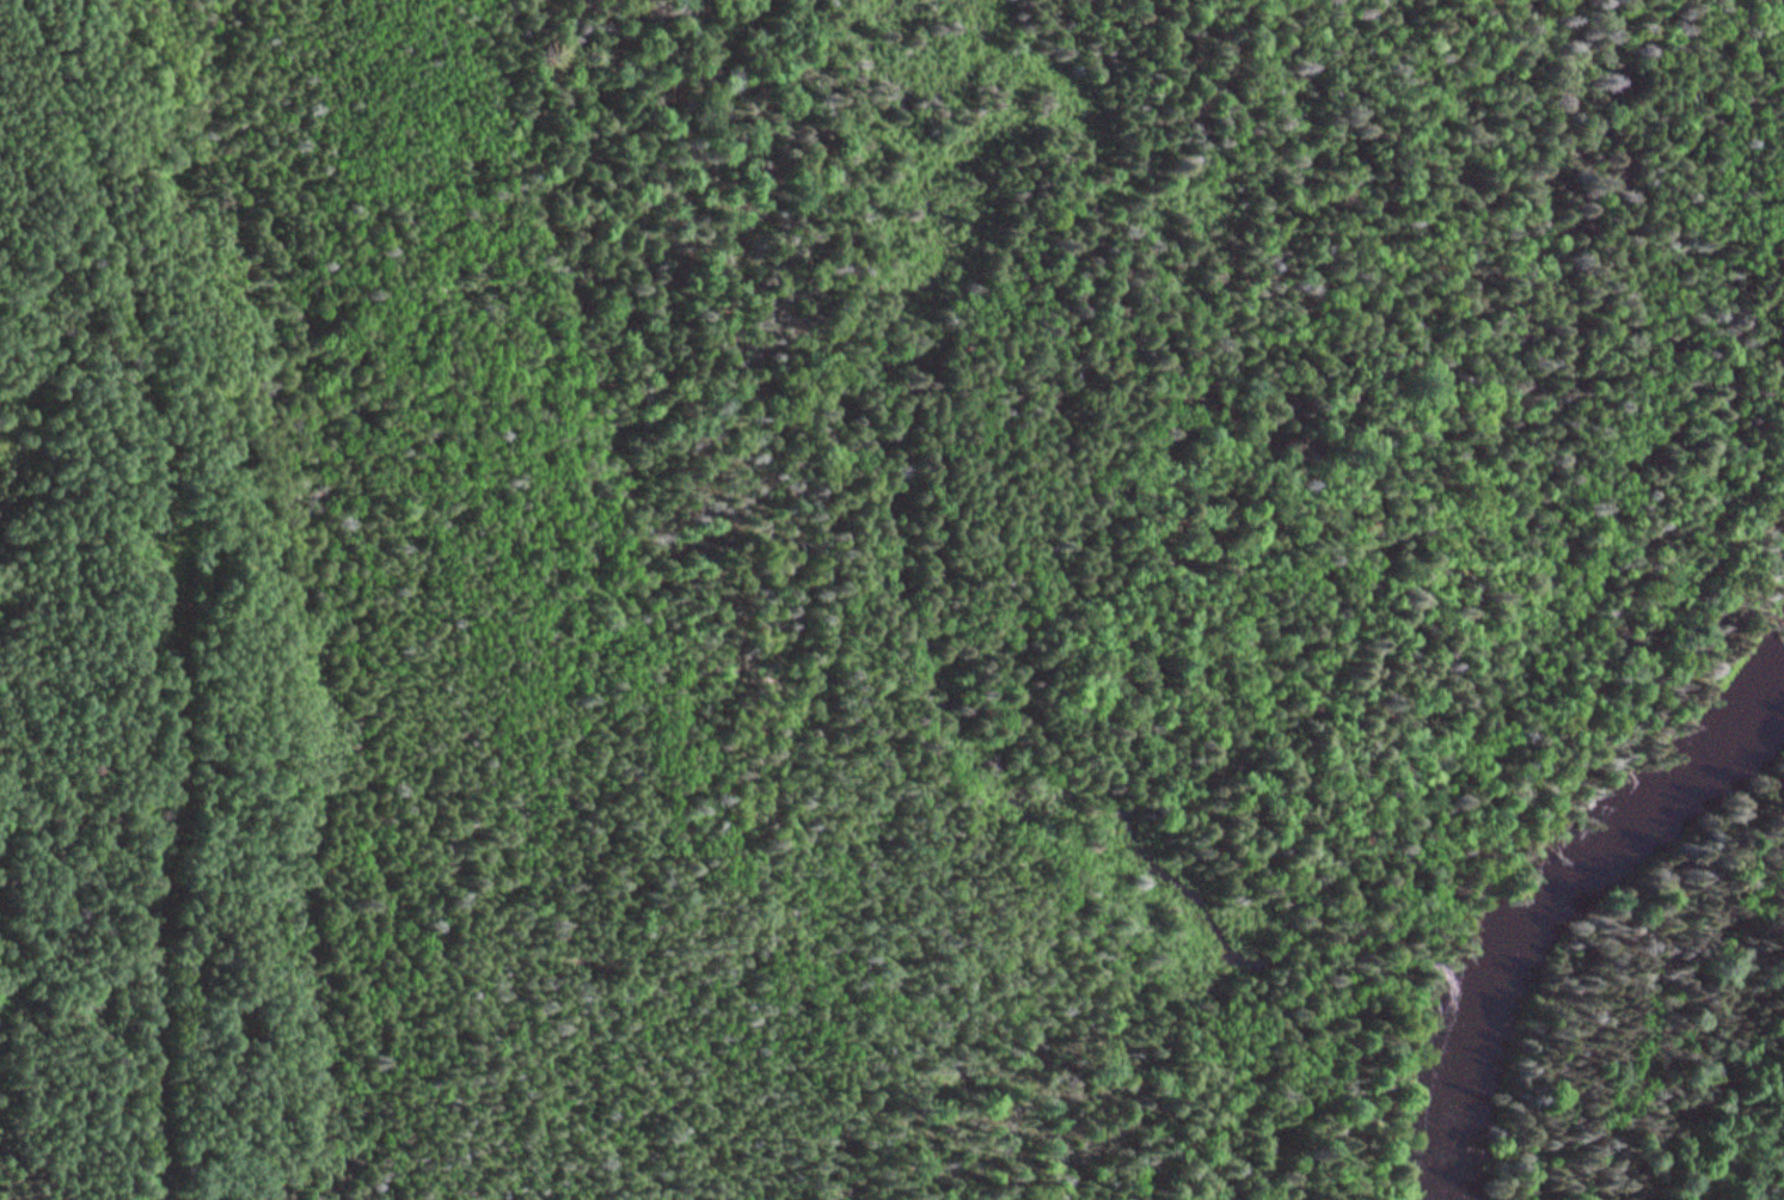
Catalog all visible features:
river: (1617, 847)
river: (1463, 1119)

